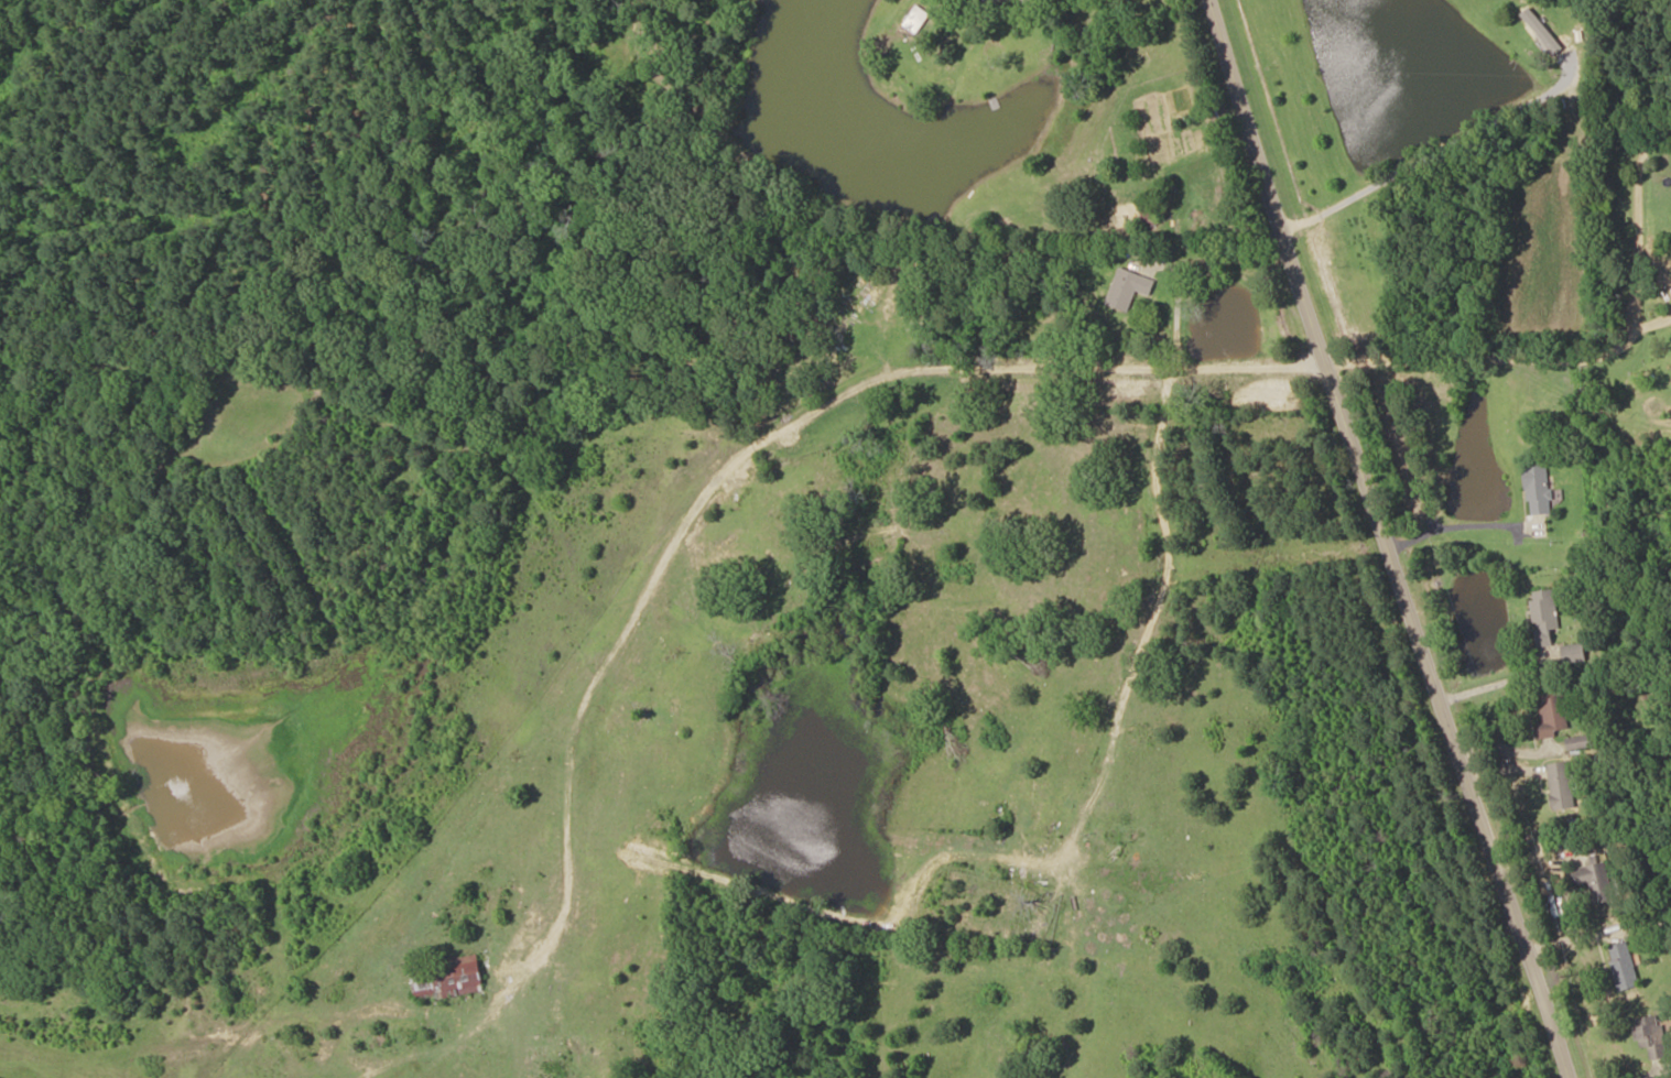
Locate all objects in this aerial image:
building: (1023, 0)
building: (915, 20)
building: (1128, 288)
road: (1498, 360)
road: (907, 384)
building: (1538, 489)
road: (1409, 535)
building: (1544, 617)
building: (1573, 653)
building: (1552, 715)
building: (1582, 742)
building: (1561, 785)
building: (1596, 881)
building: (1624, 966)
building: (447, 980)
building: (1650, 1035)

